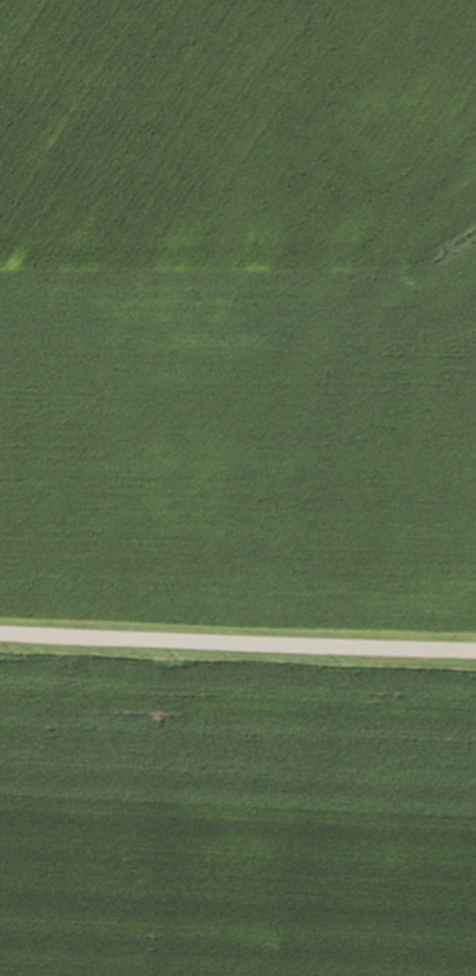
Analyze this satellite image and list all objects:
road: (237, 644)

